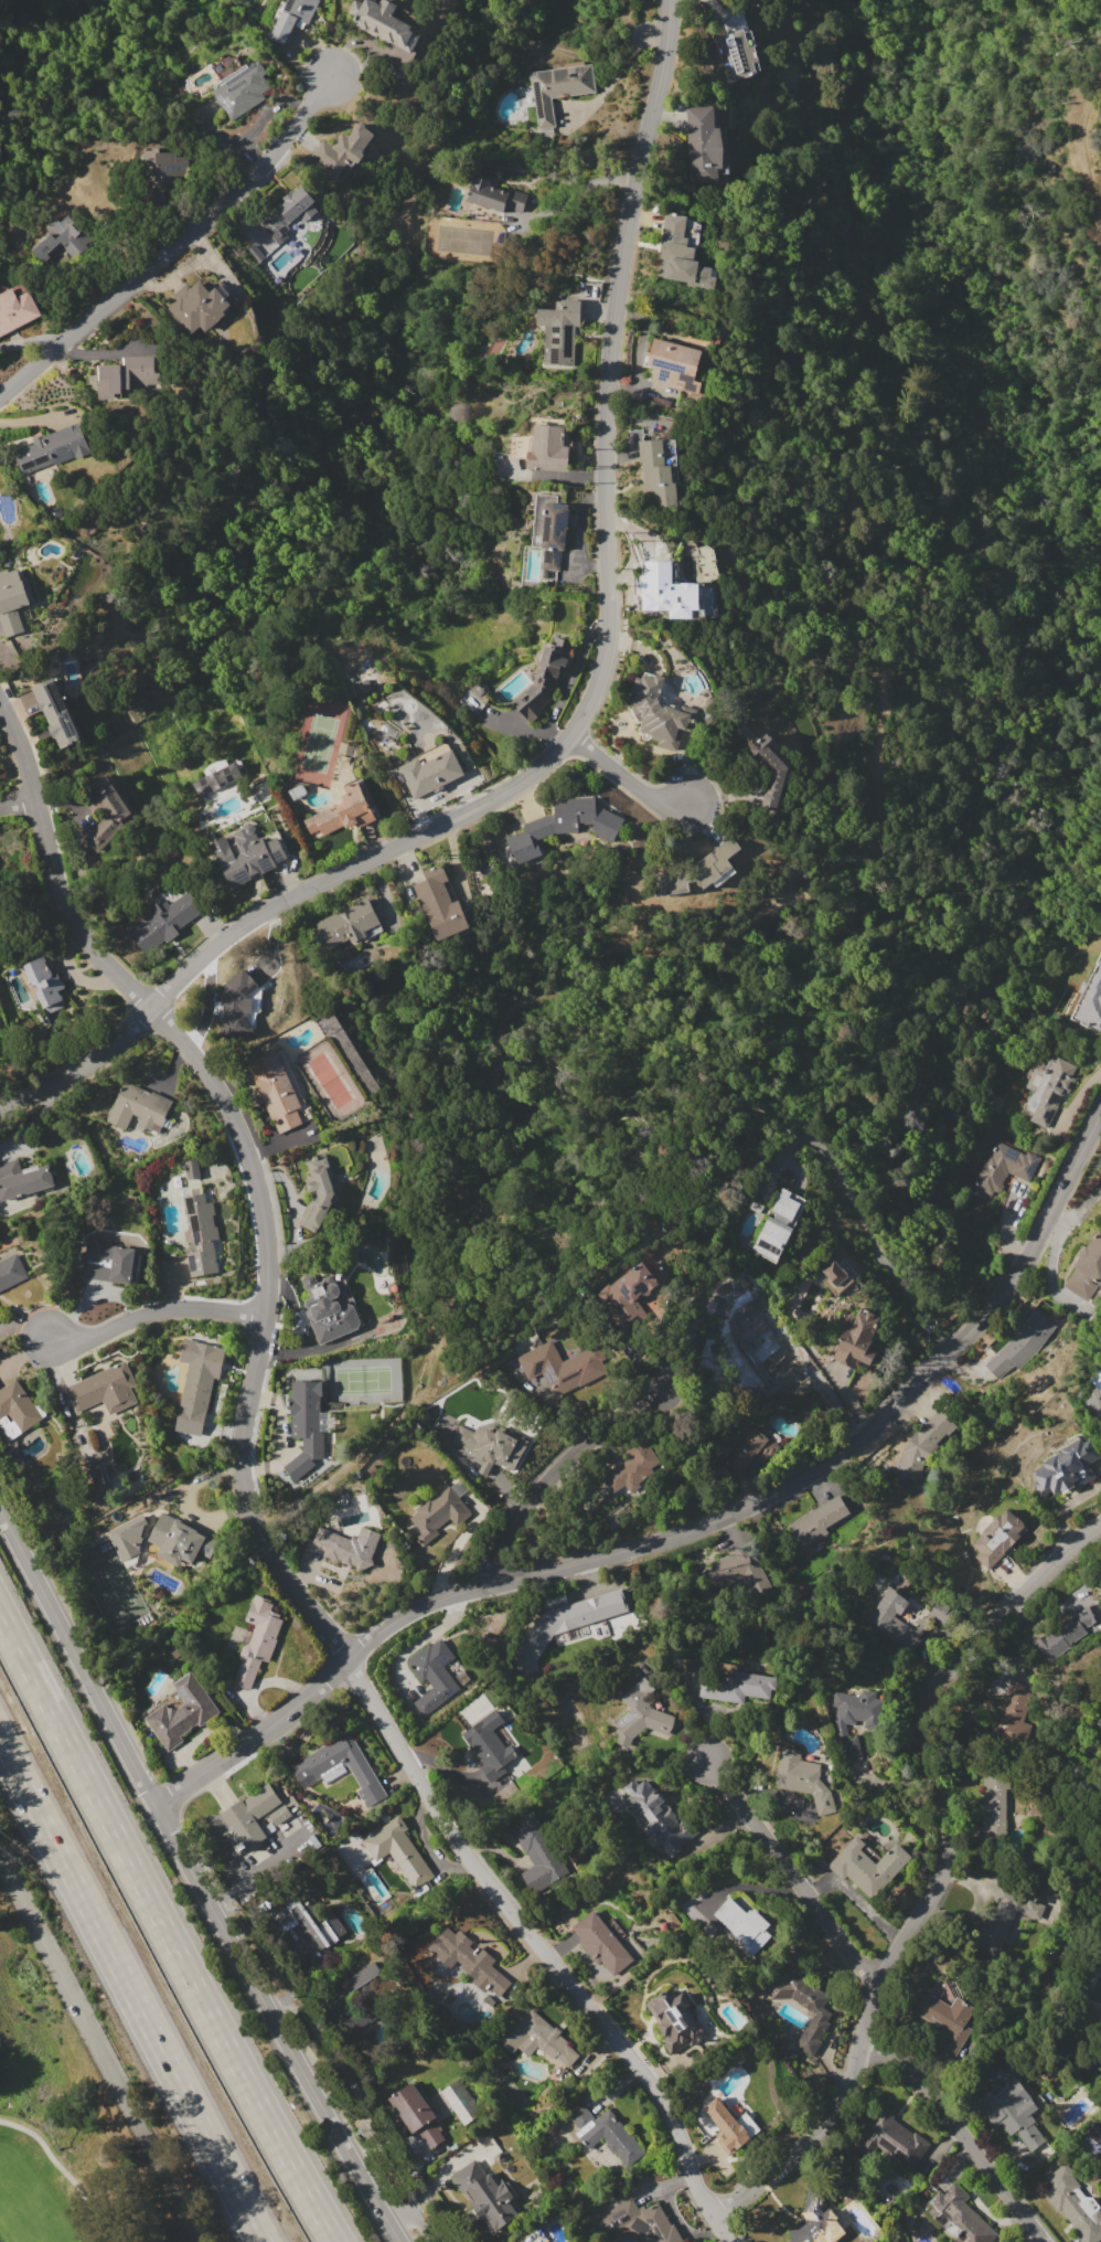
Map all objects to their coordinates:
building: (295, 17)
building: (384, 21)
building: (737, 54)
road: (621, 60)
building: (559, 88)
building: (243, 89)
building: (703, 144)
building: (343, 148)
building: (168, 168)
road: (577, 189)
building: (495, 195)
building: (289, 212)
building: (61, 238)
road: (175, 247)
building: (683, 252)
building: (201, 307)
building: (17, 308)
building: (560, 330)
building: (675, 365)
building: (125, 375)
building: (54, 448)
building: (549, 448)
building: (669, 449)
building: (658, 472)
building: (550, 528)
building: (665, 588)
building: (12, 601)
building: (545, 678)
road: (585, 709)
building: (56, 712)
building: (660, 712)
building: (767, 762)
building: (430, 773)
building: (216, 775)
road: (628, 776)
road: (17, 803)
building: (107, 811)
building: (344, 811)
building: (587, 817)
building: (247, 853)
building: (699, 870)
building: (440, 903)
building: (165, 920)
building: (349, 924)
building: (43, 982)
building: (237, 1001)
building: (1092, 1003)
building: (1048, 1088)
building: (276, 1090)
building: (139, 1108)
building: (1003, 1168)
building: (192, 1169)
building: (23, 1179)
building: (318, 1191)
building: (755, 1204)
road: (865, 1224)
building: (779, 1225)
building: (201, 1235)
building: (108, 1263)
building: (1087, 1268)
building: (11, 1271)
building: (835, 1272)
building: (629, 1293)
building: (328, 1309)
road: (160, 1311)
building: (0, 1318)
building: (858, 1339)
building: (1019, 1346)
building: (559, 1369)
building: (197, 1382)
building: (1094, 1384)
building: (106, 1388)
building: (18, 1404)
building: (306, 1425)
building: (924, 1442)
building: (492, 1446)
building: (749, 1452)
building: (633, 1466)
building: (1067, 1466)
road: (556, 1469)
road: (250, 1505)
building: (438, 1513)
building: (816, 1521)
road: (686, 1530)
building: (127, 1537)
building: (998, 1537)
building: (181, 1540)
building: (349, 1547)
building: (738, 1571)
building: (585, 1611)
building: (941, 1611)
building: (895, 1619)
building: (1068, 1630)
building: (258, 1639)
building: (432, 1677)
building: (739, 1686)
building: (1017, 1710)
building: (183, 1711)
building: (641, 1713)
building: (855, 1717)
building: (488, 1744)
building: (363, 1773)
building: (803, 1777)
building: (993, 1807)
building: (280, 1814)
building: (659, 1816)
building: (245, 1818)
building: (541, 1849)
building: (399, 1850)
building: (821, 1860)
building: (867, 1864)
road: (940, 1870)
road: (195, 1874)
road: (793, 1874)
building: (1055, 1890)
building: (1007, 1913)
building: (308, 1920)
building: (744, 1926)
road: (165, 1928)
building: (605, 1944)
building: (470, 1959)
building: (362, 1977)
road: (131, 1991)
building: (803, 2002)
building: (368, 2013)
building: (943, 2017)
building: (680, 2025)
building: (537, 2038)
road: (103, 2047)
building: (461, 2101)
building: (1008, 2103)
building: (417, 2114)
building: (730, 2125)
park: (47, 2127)
power tower: (364, 2128)
road: (963, 2129)
building: (608, 2134)
building: (891, 2139)
road: (66, 2172)
road: (427, 2186)
building: (487, 2193)
building: (1073, 2201)
building: (961, 2216)
building: (817, 2220)
building: (638, 2223)
road: (413, 2224)

